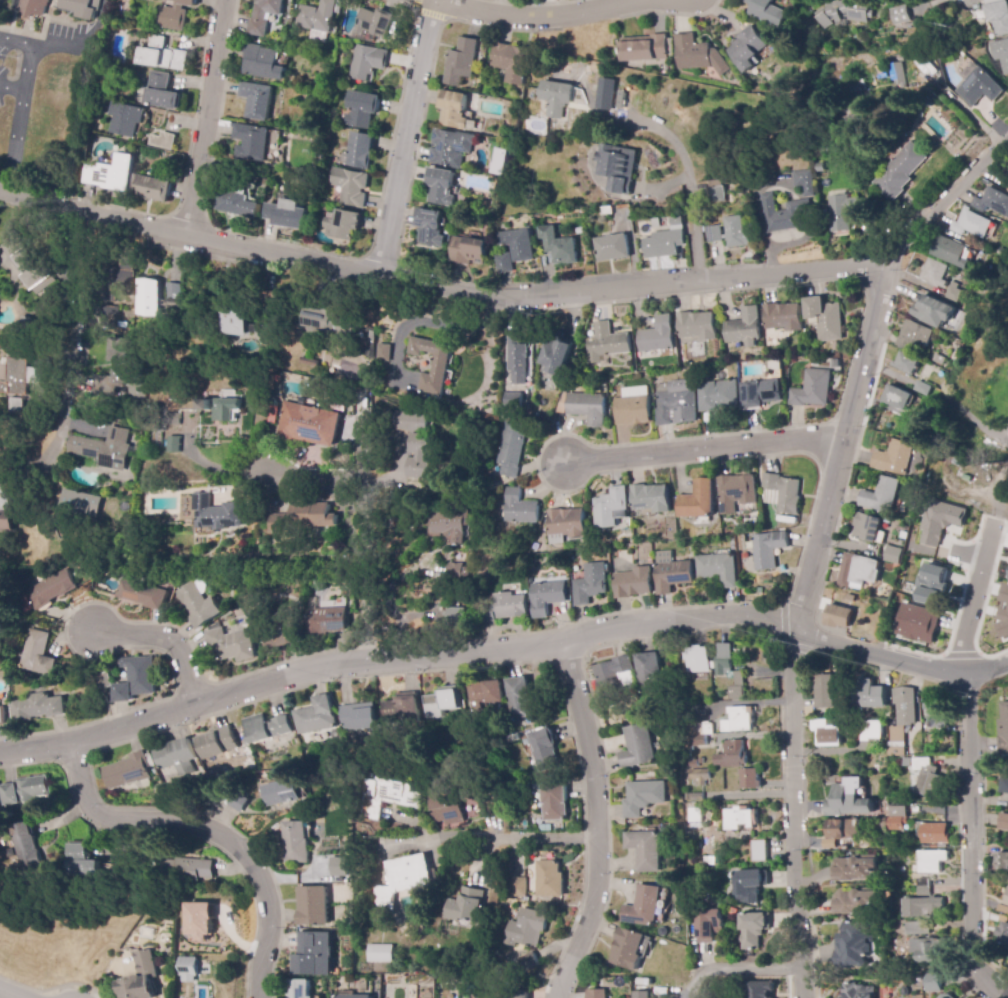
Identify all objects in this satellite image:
building: (81, 7)
building: (31, 8)
building: (765, 11)
building: (980, 12)
road: (426, 13)
building: (843, 13)
building: (176, 15)
building: (264, 16)
building: (900, 16)
building: (998, 16)
building: (317, 19)
road: (536, 19)
building: (374, 24)
road: (15, 40)
road: (53, 46)
building: (644, 48)
building: (747, 49)
building: (161, 54)
building: (697, 55)
building: (1002, 55)
building: (367, 62)
building: (461, 62)
building: (511, 62)
building: (263, 63)
building: (930, 65)
building: (898, 77)
building: (622, 85)
building: (858, 87)
building: (980, 88)
road: (11, 89)
building: (162, 92)
building: (606, 94)
building: (555, 97)
building: (256, 101)
building: (362, 110)
building: (456, 111)
road: (205, 118)
road: (17, 119)
building: (127, 121)
building: (845, 121)
road: (404, 137)
building: (162, 141)
building: (250, 142)
building: (451, 148)
building: (361, 151)
building: (820, 167)
building: (618, 168)
building: (900, 172)
building: (111, 174)
road: (691, 182)
building: (805, 182)
building: (351, 187)
building: (442, 187)
building: (152, 188)
building: (717, 192)
building: (993, 202)
building: (236, 204)
building: (606, 211)
building: (842, 212)
building: (286, 214)
building: (784, 214)
building: (971, 223)
building: (656, 224)
building: (677, 224)
building: (342, 225)
building: (431, 228)
building: (736, 232)
building: (715, 234)
building: (518, 244)
building: (664, 244)
building: (558, 246)
building: (612, 248)
building: (469, 251)
building: (1002, 251)
building: (950, 252)
building: (28, 261)
building: (505, 263)
building: (934, 274)
building: (125, 275)
road: (440, 286)
building: (954, 293)
building: (172, 294)
building: (147, 298)
building: (935, 310)
building: (109, 315)
building: (783, 318)
building: (825, 319)
building: (332, 320)
building: (235, 322)
building: (24, 326)
building: (697, 326)
building: (745, 328)
building: (915, 338)
building: (658, 339)
road: (78, 341)
building: (608, 344)
building: (837, 346)
building: (557, 352)
building: (384, 354)
building: (518, 361)
building: (939, 361)
building: (309, 362)
building: (774, 364)
building: (835, 364)
building: (907, 364)
road: (863, 365)
building: (435, 366)
building: (114, 369)
building: (17, 376)
building: (924, 387)
building: (812, 389)
building: (761, 393)
building: (136, 394)
building: (719, 396)
building: (899, 397)
building: (513, 400)
building: (562, 403)
building: (675, 403)
building: (15, 405)
building: (206, 405)
building: (633, 406)
building: (588, 407)
building: (227, 409)
building: (407, 421)
building: (303, 428)
building: (913, 428)
building: (173, 443)
road: (703, 448)
building: (104, 449)
building: (510, 450)
building: (419, 456)
building: (894, 458)
building: (11, 464)
road: (217, 467)
building: (736, 492)
building: (780, 493)
building: (652, 499)
building: (883, 500)
building: (80, 502)
building: (698, 502)
building: (6, 505)
building: (269, 505)
building: (519, 508)
building: (612, 508)
building: (217, 513)
road: (374, 517)
building: (304, 518)
building: (939, 523)
building: (448, 525)
building: (567, 525)
building: (868, 528)
building: (767, 549)
building: (894, 555)
building: (719, 568)
building: (454, 571)
building: (671, 573)
building: (860, 576)
building: (589, 584)
building: (632, 584)
building: (932, 586)
building: (52, 589)
building: (143, 594)
building: (774, 595)
building: (547, 598)
building: (851, 598)
building: (1005, 598)
road: (973, 602)
building: (197, 605)
building: (502, 608)
building: (456, 616)
building: (838, 617)
road: (683, 620)
building: (326, 625)
building: (918, 625)
building: (1004, 626)
building: (279, 635)
road: (168, 645)
building: (232, 645)
building: (37, 653)
building: (696, 659)
building: (725, 659)
road: (904, 662)
building: (650, 673)
road: (278, 675)
building: (136, 679)
building: (615, 679)
building: (103, 681)
building: (739, 687)
building: (824, 691)
building: (487, 693)
building: (874, 695)
building: (519, 697)
building: (441, 701)
building: (37, 707)
building: (402, 707)
building: (937, 713)
building: (2, 716)
building: (315, 716)
building: (358, 717)
building: (740, 719)
building: (901, 719)
building: (703, 728)
building: (869, 730)
building: (1003, 730)
building: (264, 732)
building: (826, 734)
building: (334, 735)
building: (308, 740)
building: (697, 741)
building: (215, 743)
building: (278, 743)
building: (288, 745)
building: (638, 747)
building: (545, 749)
building: (732, 755)
building: (174, 761)
building: (694, 763)
building: (127, 772)
building: (700, 776)
building: (927, 779)
building: (750, 780)
building: (1004, 786)
building: (27, 791)
building: (284, 792)
building: (392, 792)
building: (644, 797)
building: (848, 800)
building: (239, 802)
building: (554, 802)
building: (448, 809)
building: (696, 814)
road: (797, 817)
building: (896, 818)
building: (740, 819)
road: (598, 821)
building: (1003, 822)
building: (840, 828)
road: (210, 831)
building: (936, 834)
building: (1001, 838)
road: (495, 839)
building: (820, 842)
road: (970, 842)
building: (297, 843)
building: (26, 847)
building: (645, 850)
building: (758, 851)
building: (10, 853)
building: (707, 860)
building: (932, 861)
building: (1003, 861)
building: (81, 862)
building: (339, 866)
building: (855, 869)
building: (184, 871)
building: (402, 879)
building: (551, 879)
building: (750, 882)
building: (923, 882)
building: (518, 886)
building: (923, 892)
building: (1007, 900)
building: (855, 901)
building: (466, 905)
building: (313, 906)
building: (644, 907)
building: (926, 907)
building: (201, 920)
building: (709, 926)
building: (527, 928)
building: (753, 929)
building: (1003, 935)
building: (854, 945)
building: (926, 946)
building: (627, 949)
building: (380, 953)
building: (313, 955)
building: (529, 963)
building: (190, 970)
road: (763, 974)
building: (140, 978)
building: (931, 984)
building: (297, 989)
building: (753, 990)
building: (858, 991)
road: (13, 992)
building: (597, 993)
building: (643, 993)
building: (515, 994)
building: (348, 995)
building: (947, 996)

